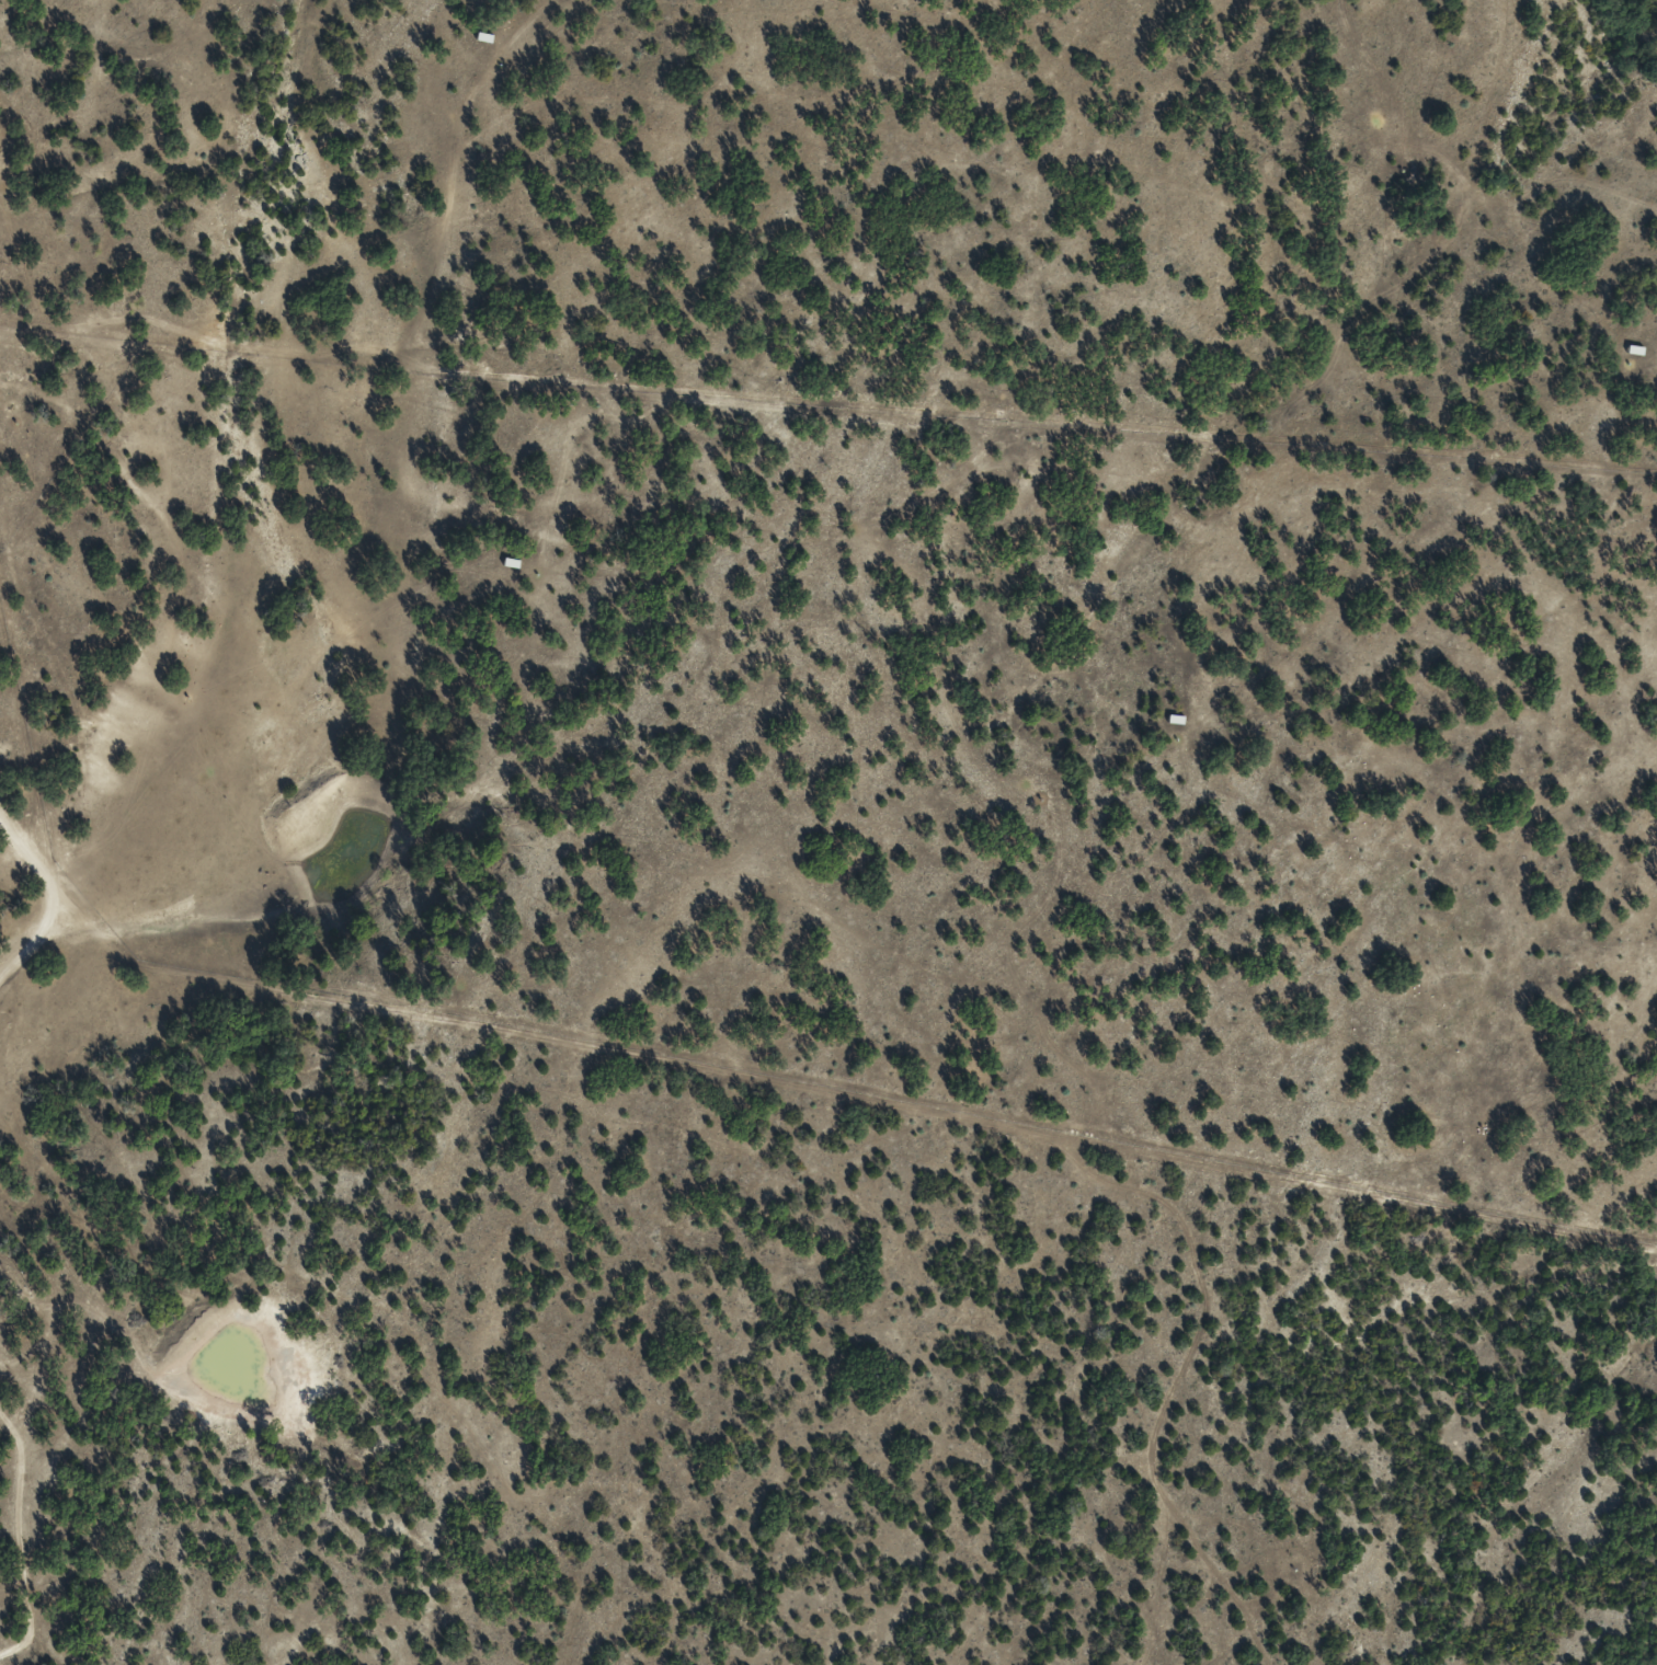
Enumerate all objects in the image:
road: (124, 1035)

